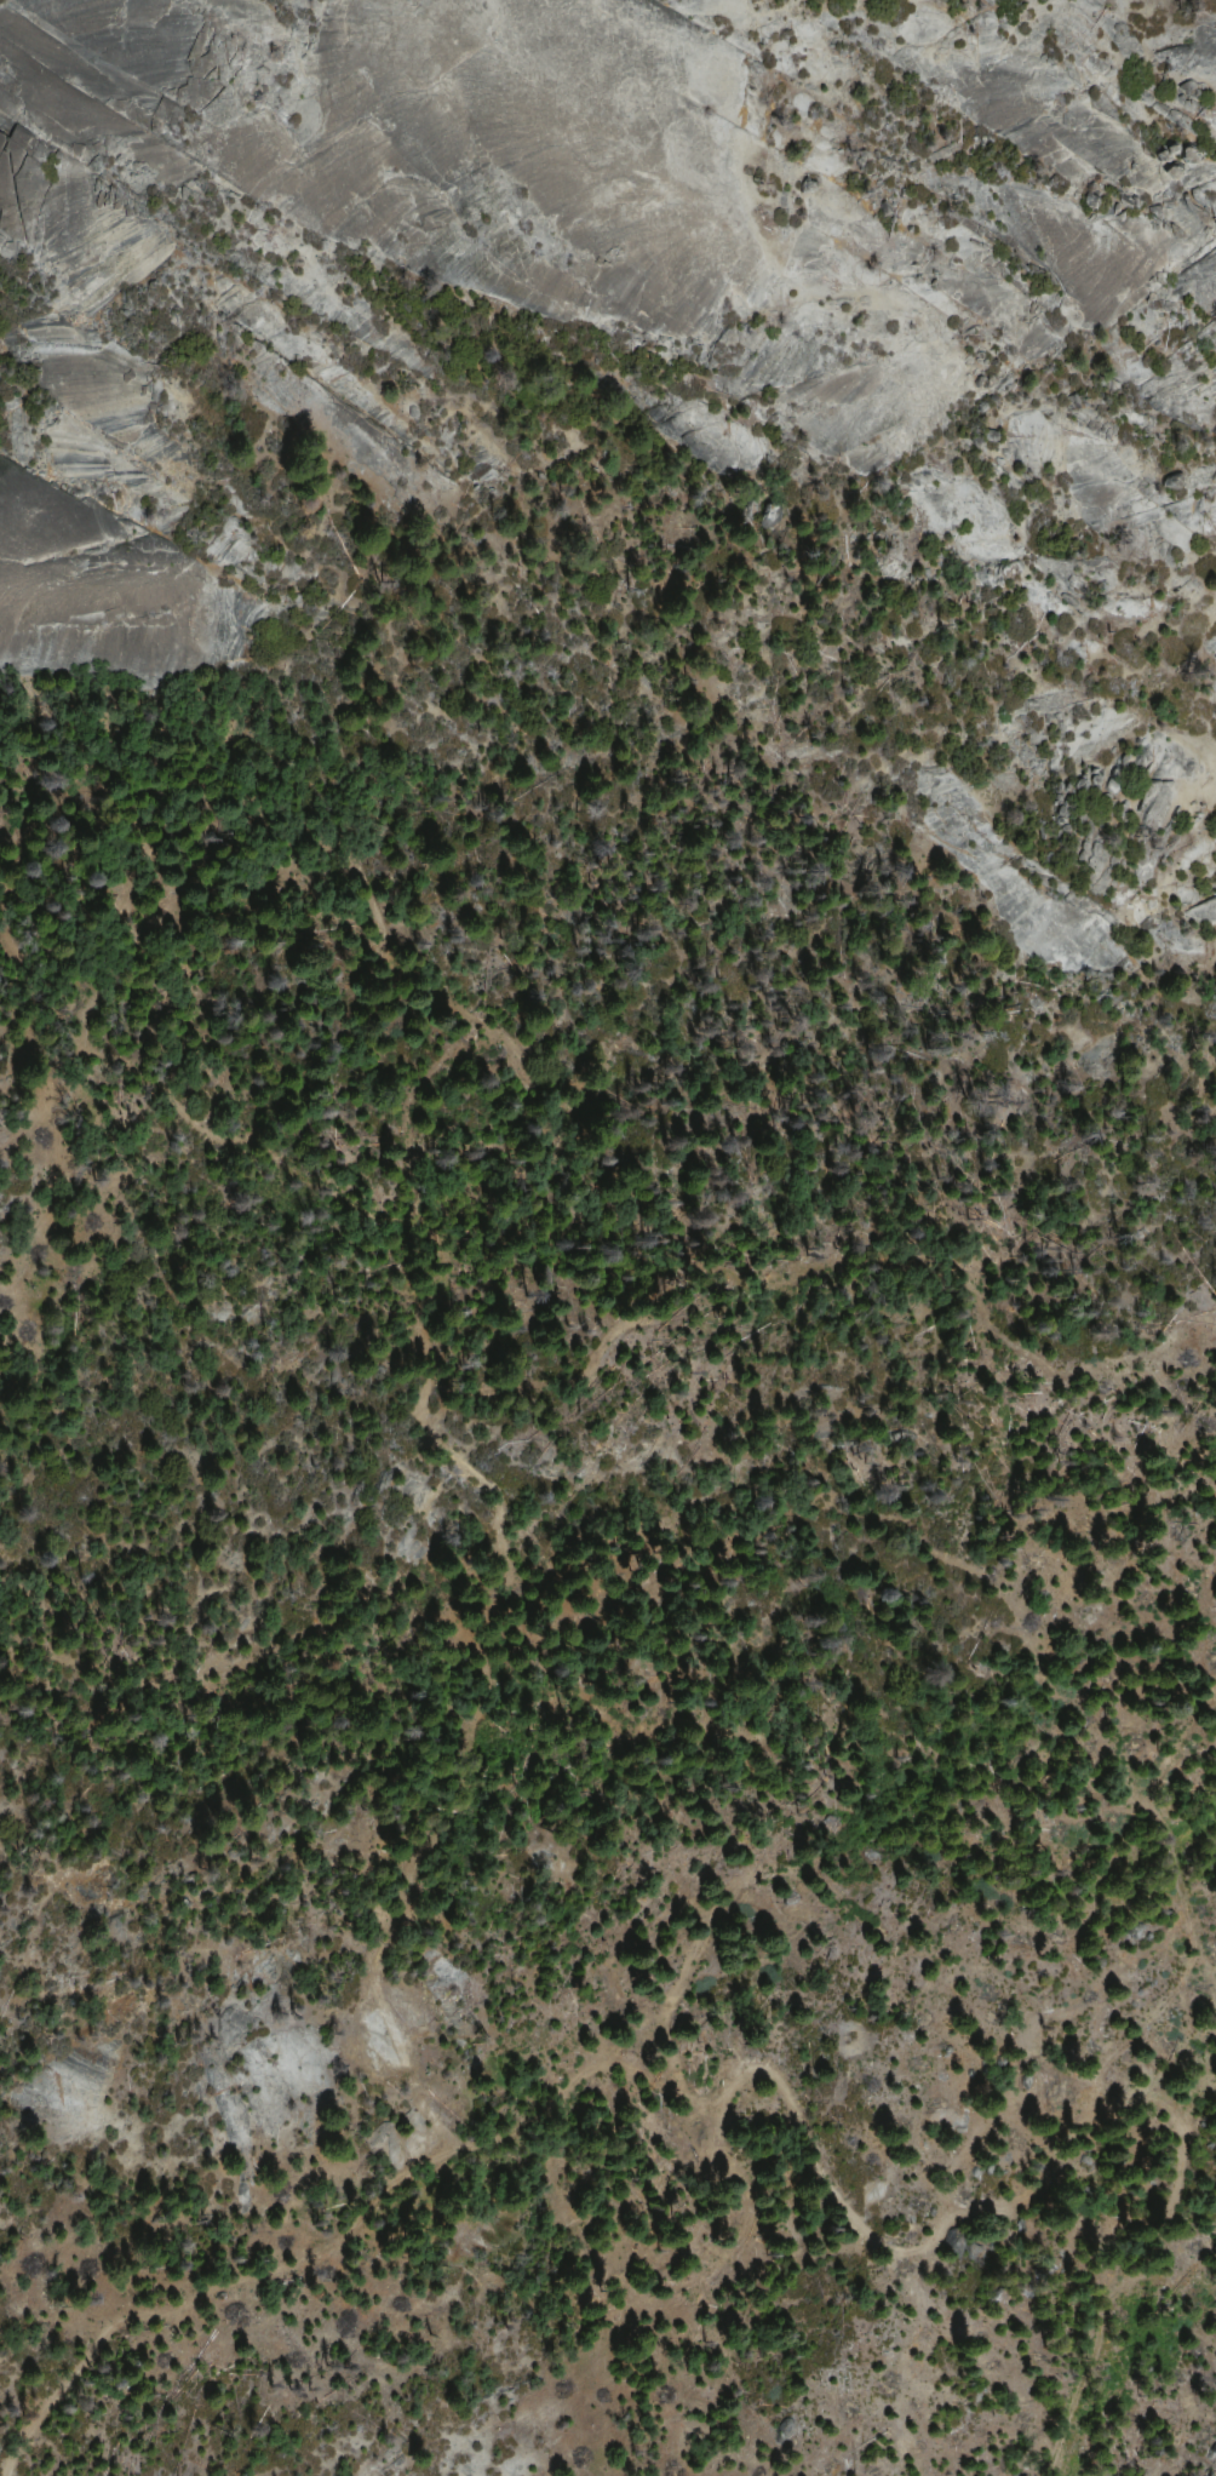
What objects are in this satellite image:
road: (833, 259)

